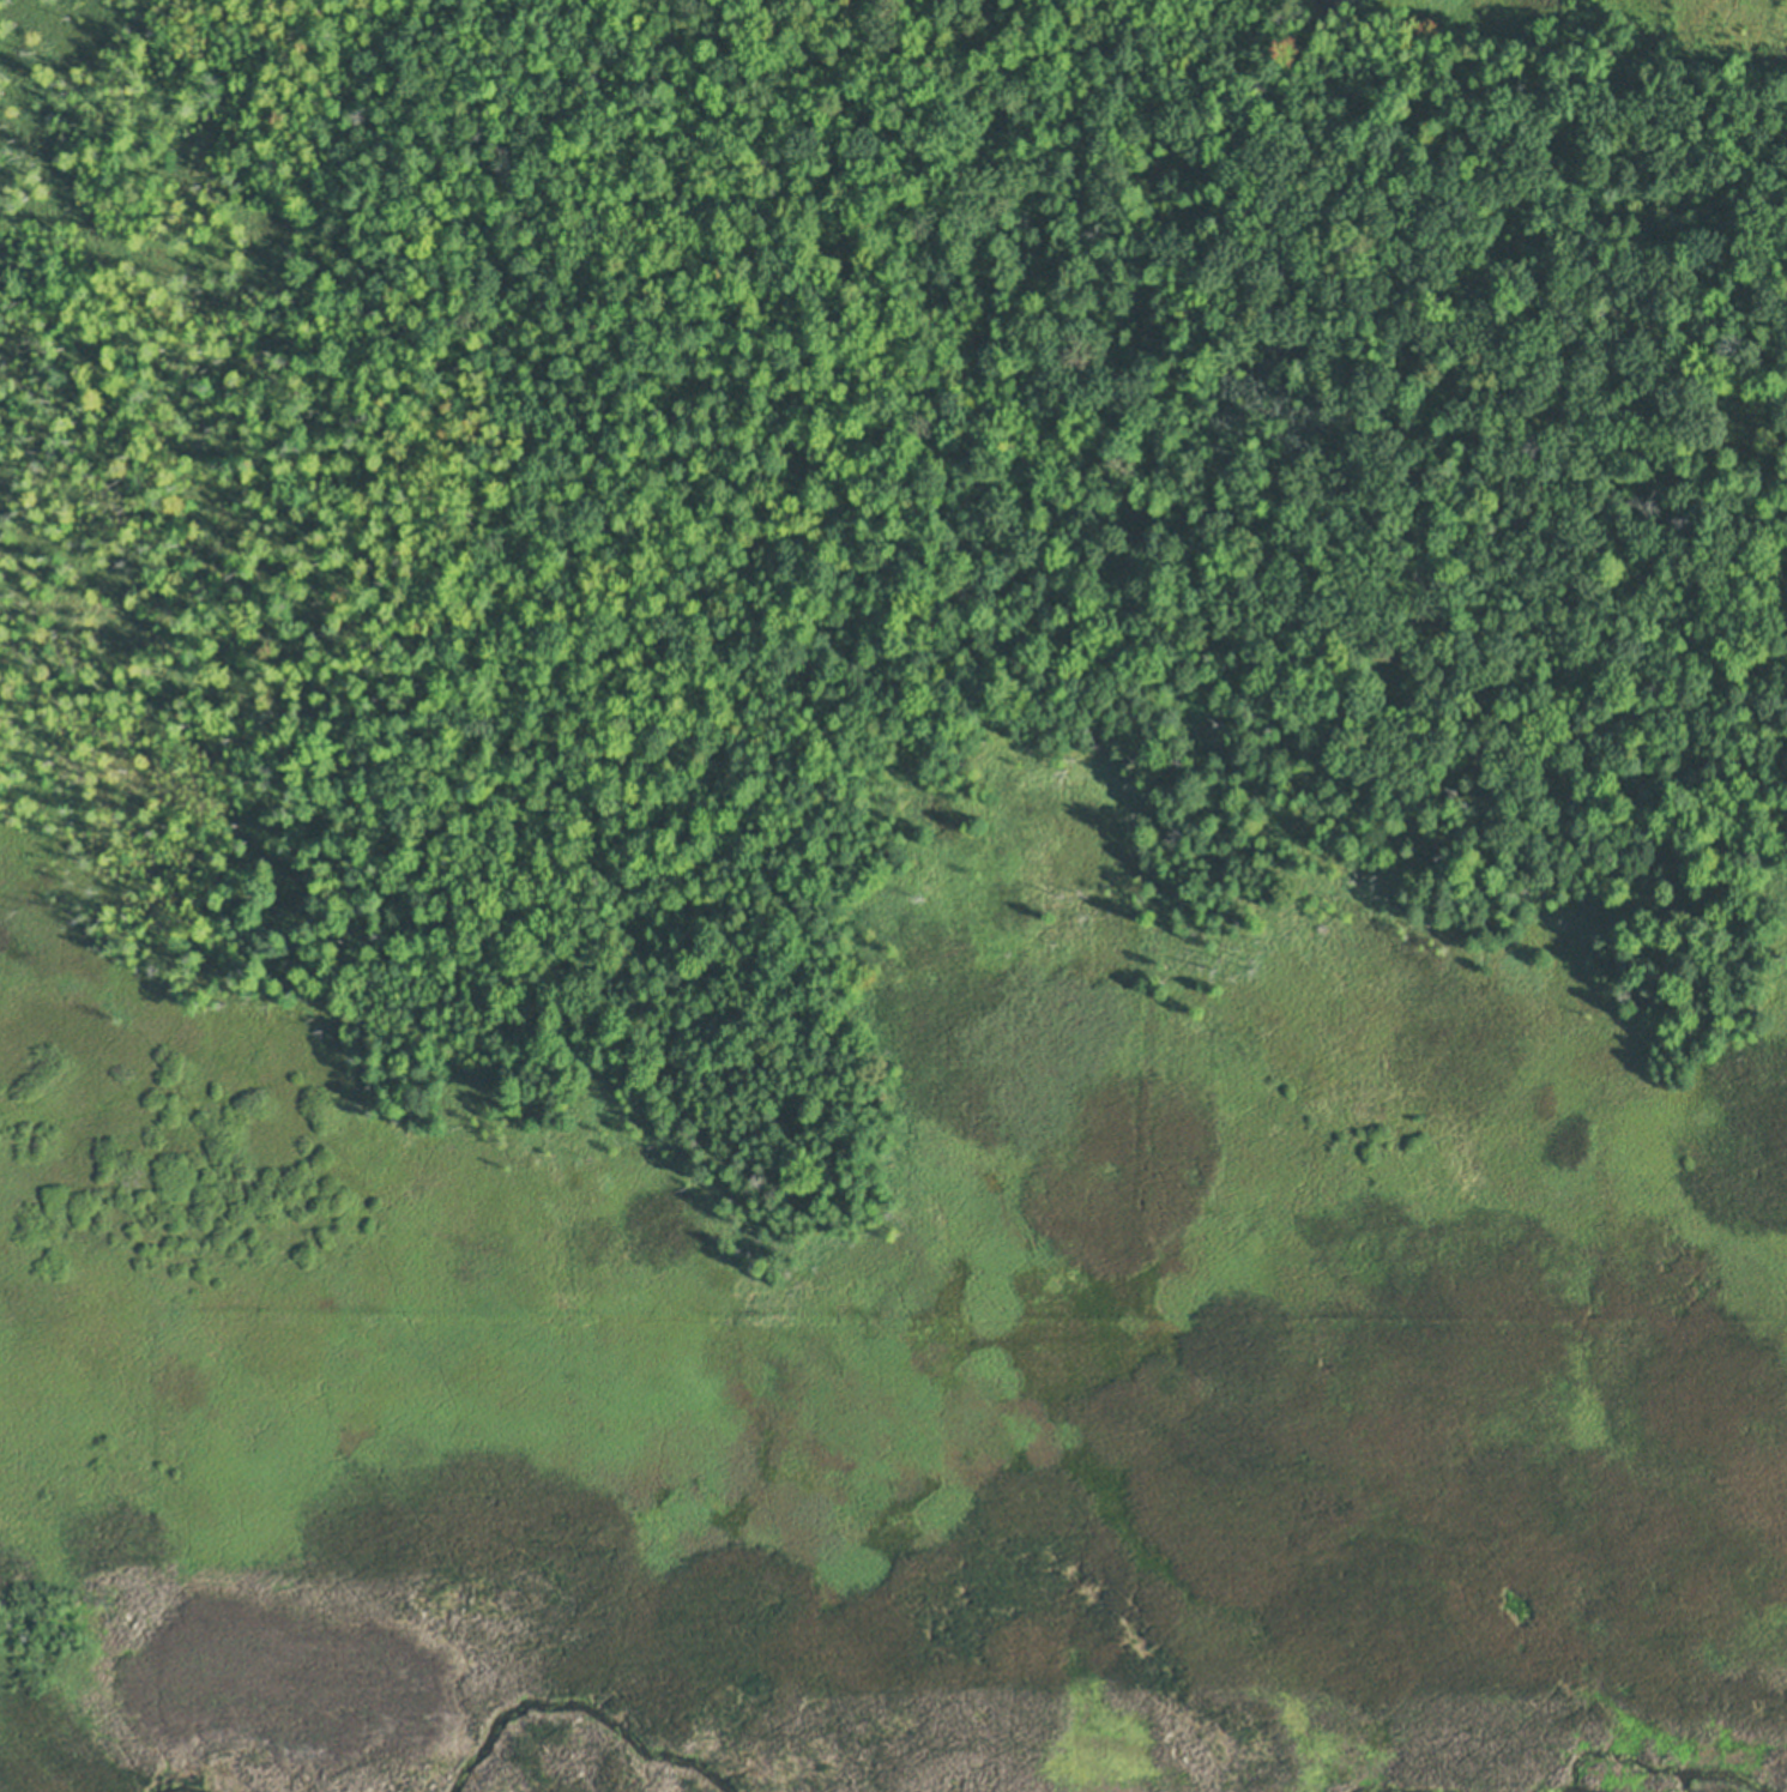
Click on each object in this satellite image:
river: (581, 1708)
river: (1659, 1767)

